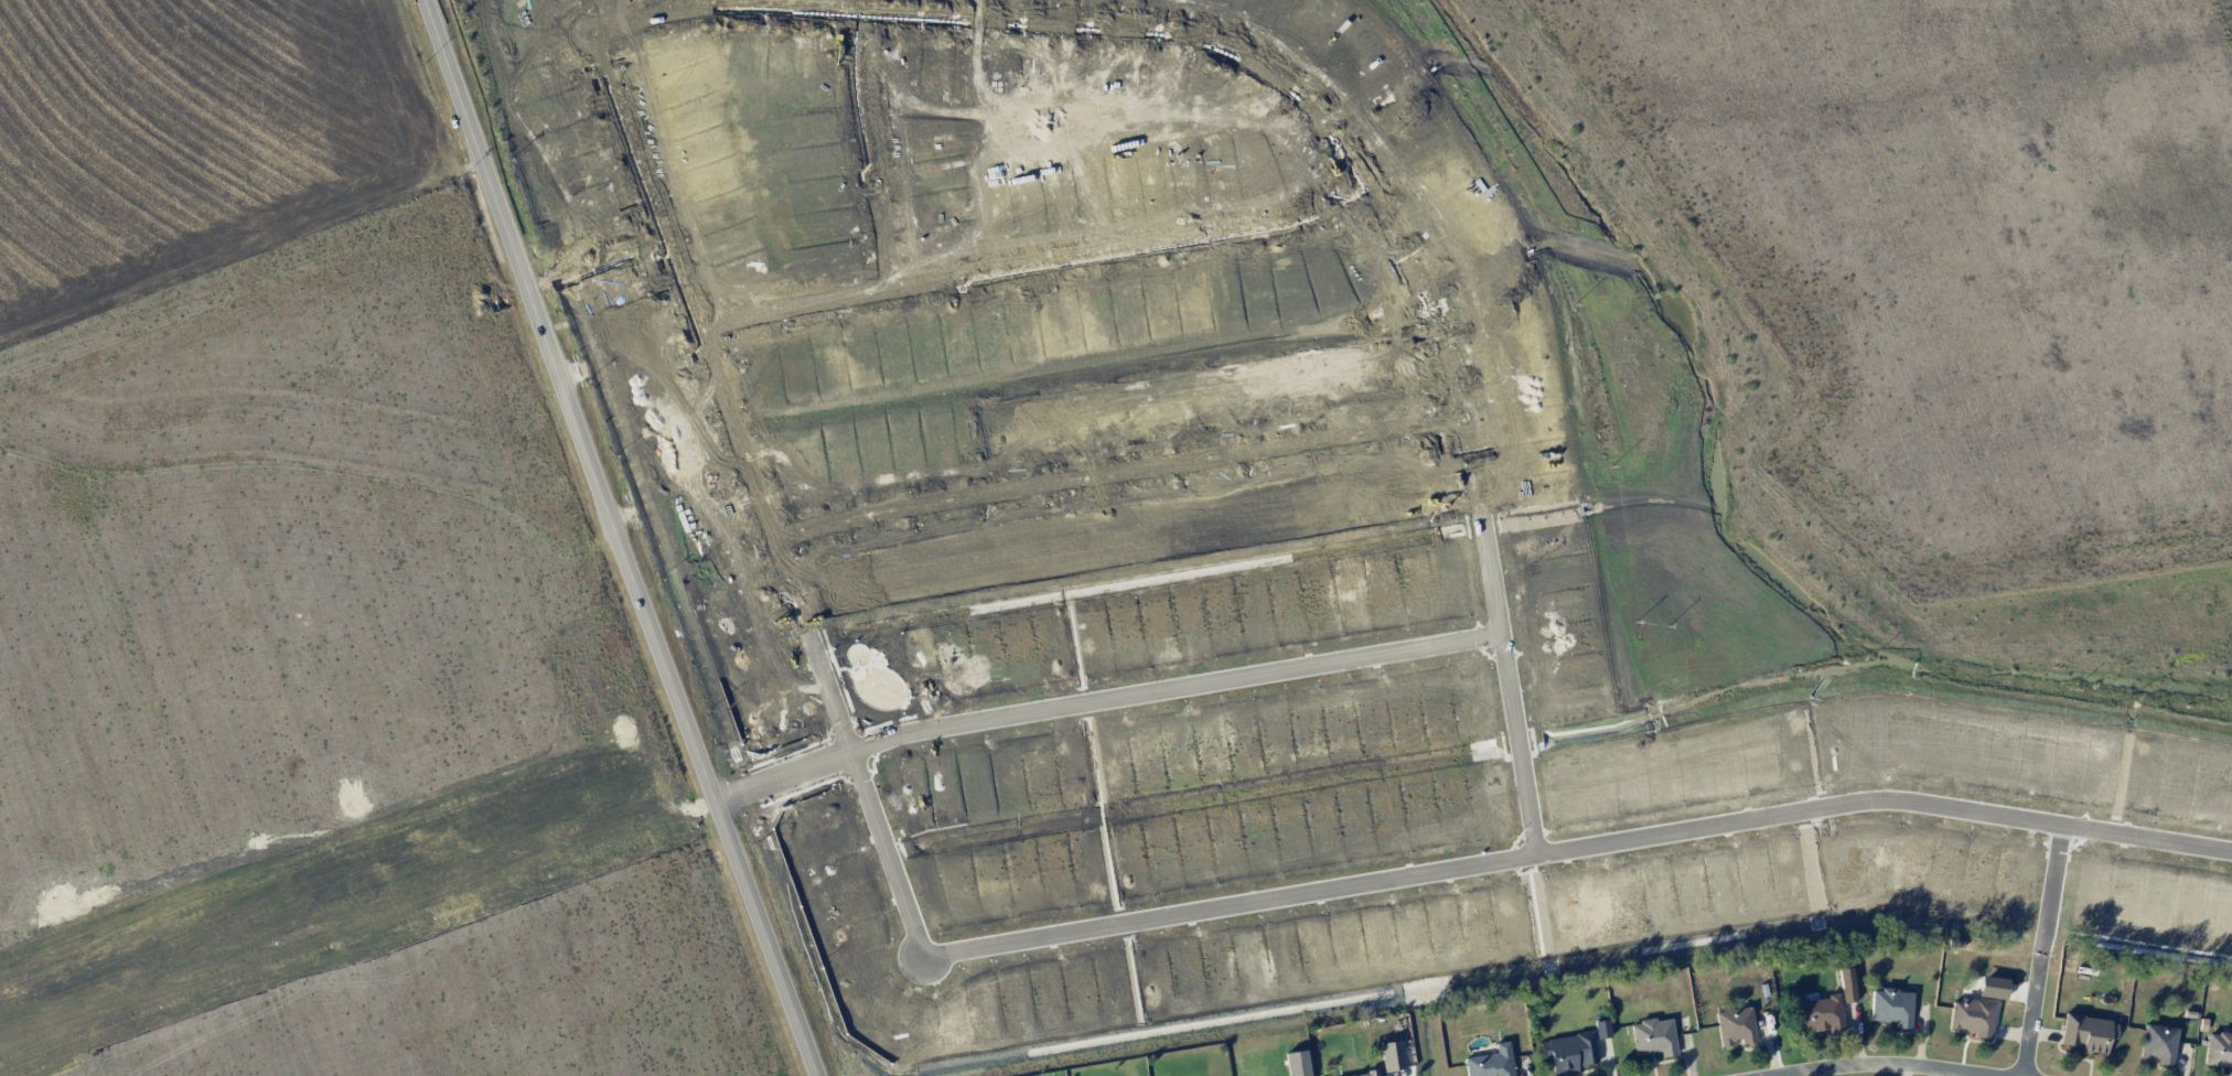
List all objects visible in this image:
road: (2189, 114)
road: (1327, 125)
road: (869, 150)
road: (1986, 211)
building: (728, 243)
road: (590, 248)
road: (1035, 265)
road: (2147, 389)
road: (1118, 474)
road: (759, 496)
road: (613, 539)
road: (1102, 699)
road: (1580, 849)
road: (2051, 889)
building: (1846, 984)
building: (1892, 1007)
building: (1820, 1013)
road: (2031, 1014)
building: (1972, 1016)
building: (1736, 1025)
building: (1601, 1029)
building: (2088, 1033)
building: (1653, 1036)
building: (2158, 1043)
building: (2219, 1051)
building: (1569, 1052)
building: (1392, 1055)
building: (1491, 1062)
road: (1876, 1064)
building: (1366, 1074)

